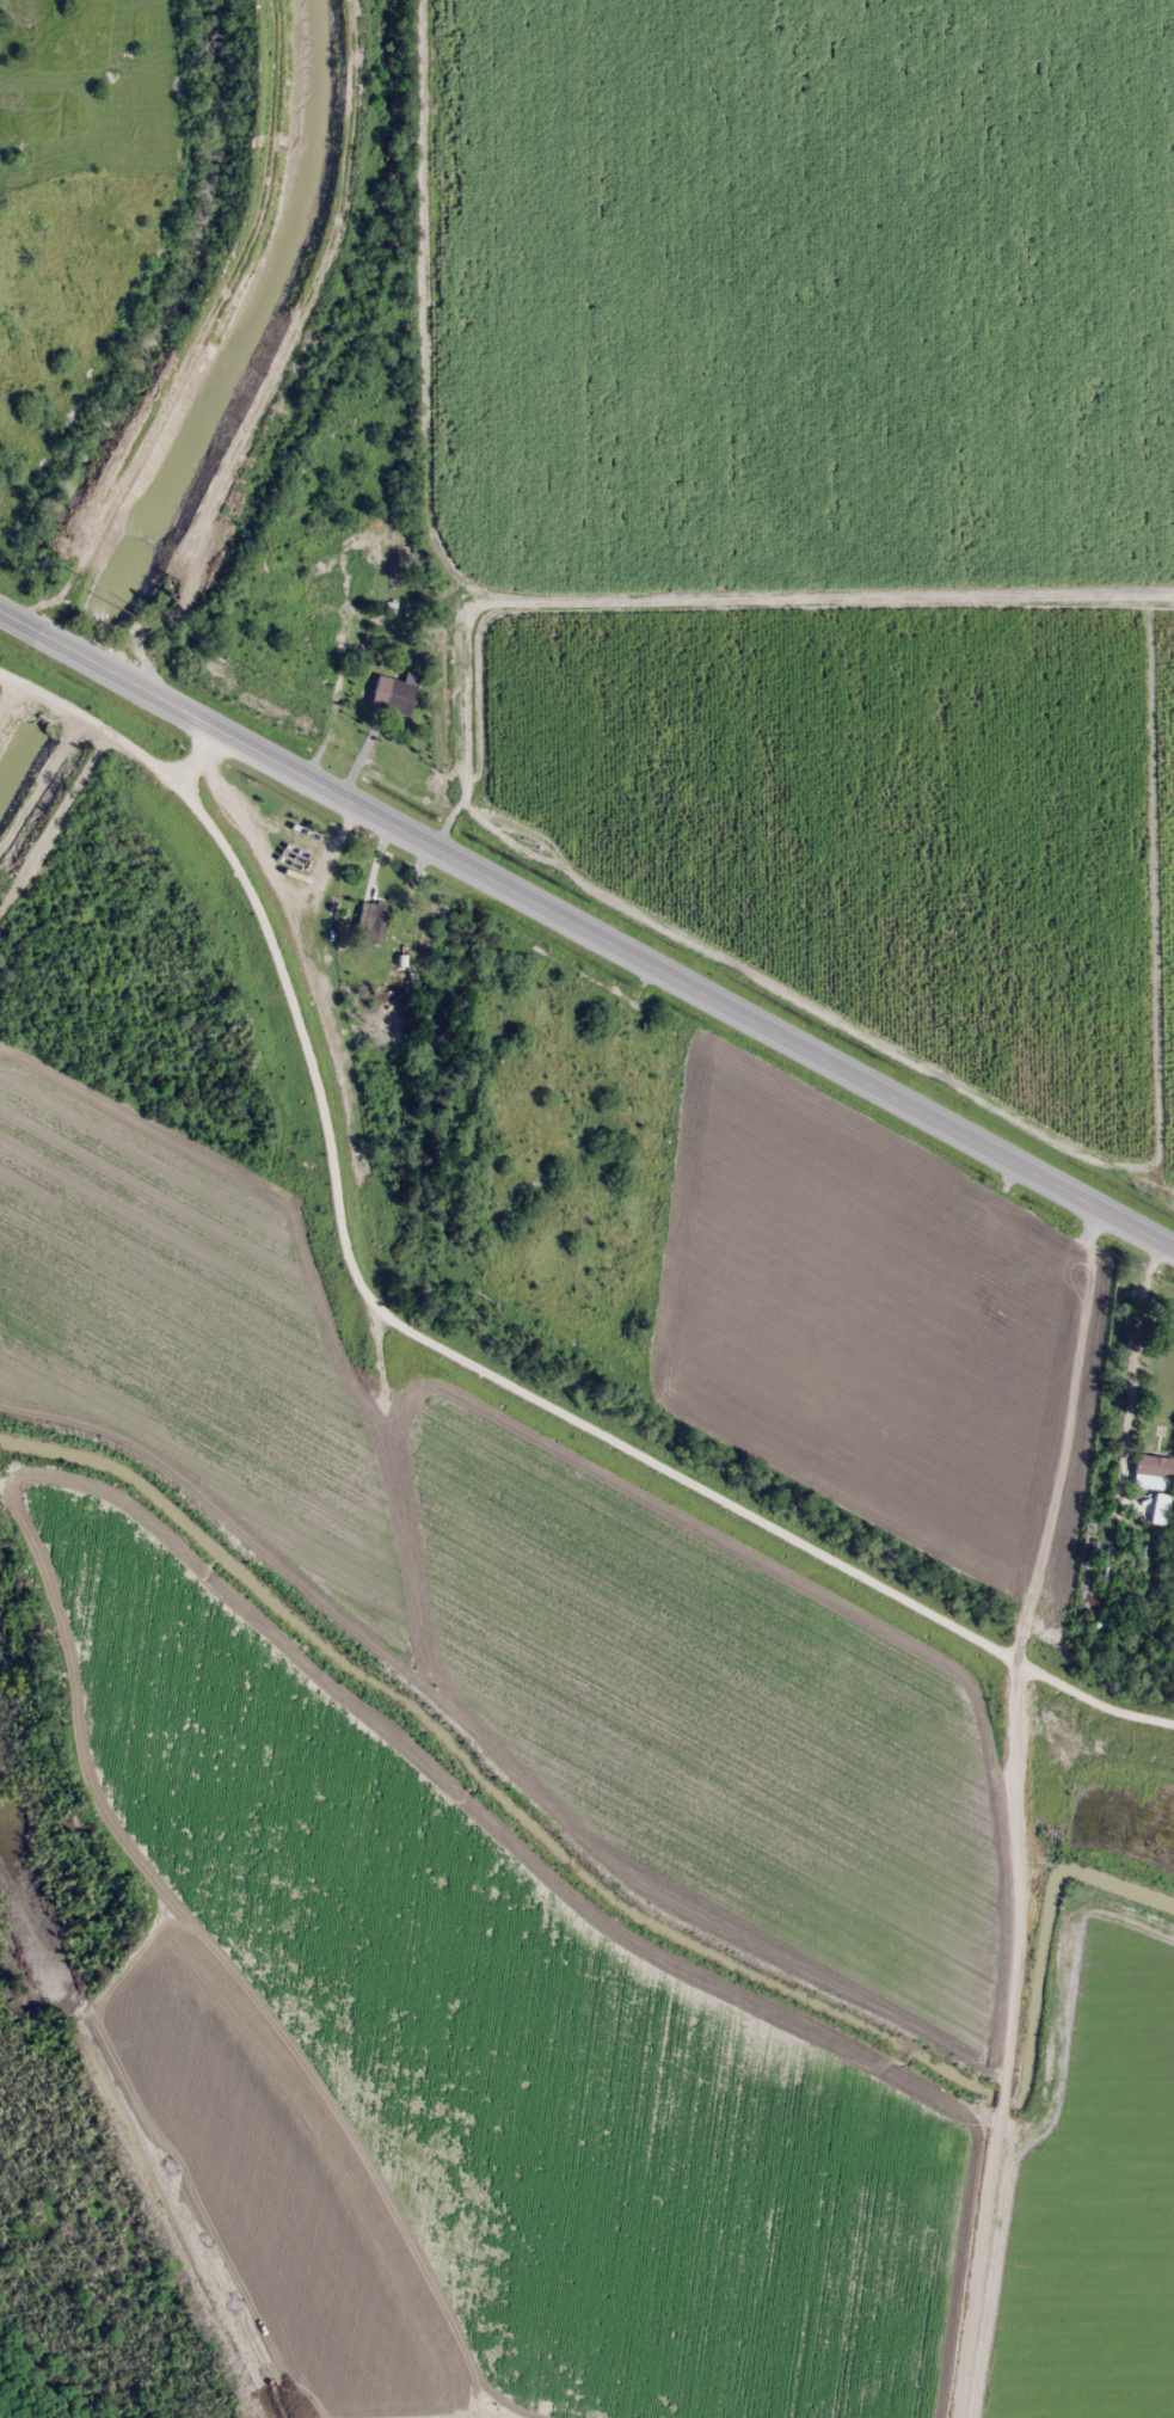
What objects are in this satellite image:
building: (399, 696)
building: (371, 921)
road: (586, 926)
building: (1099, 1449)
building: (1087, 1592)

